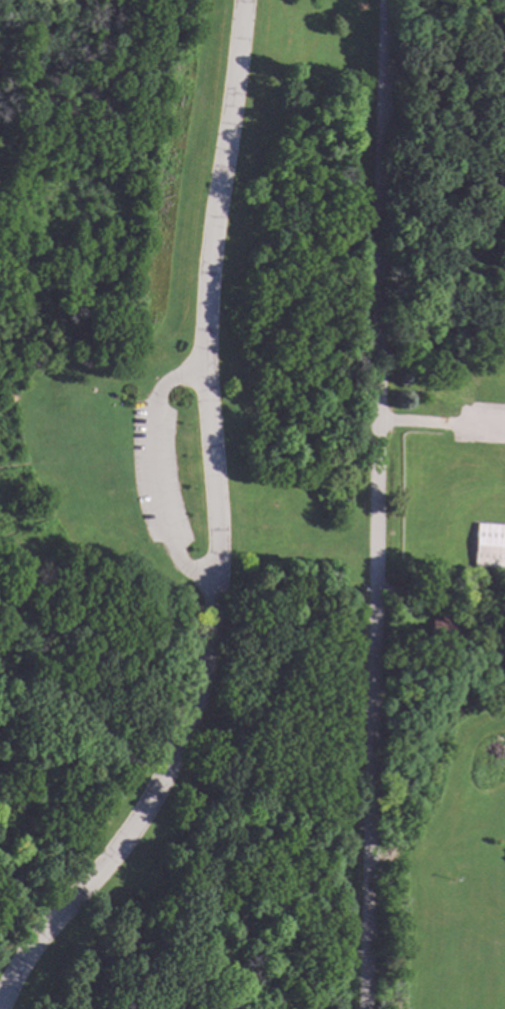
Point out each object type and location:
road: (83, 99)
park: (444, 296)
road: (77, 404)
road: (439, 424)
road: (155, 473)
parking lot: (156, 476)
park: (183, 500)
road: (373, 504)
road: (216, 531)
building: (489, 545)
building: (440, 630)
park: (446, 841)
park: (159, 1007)

